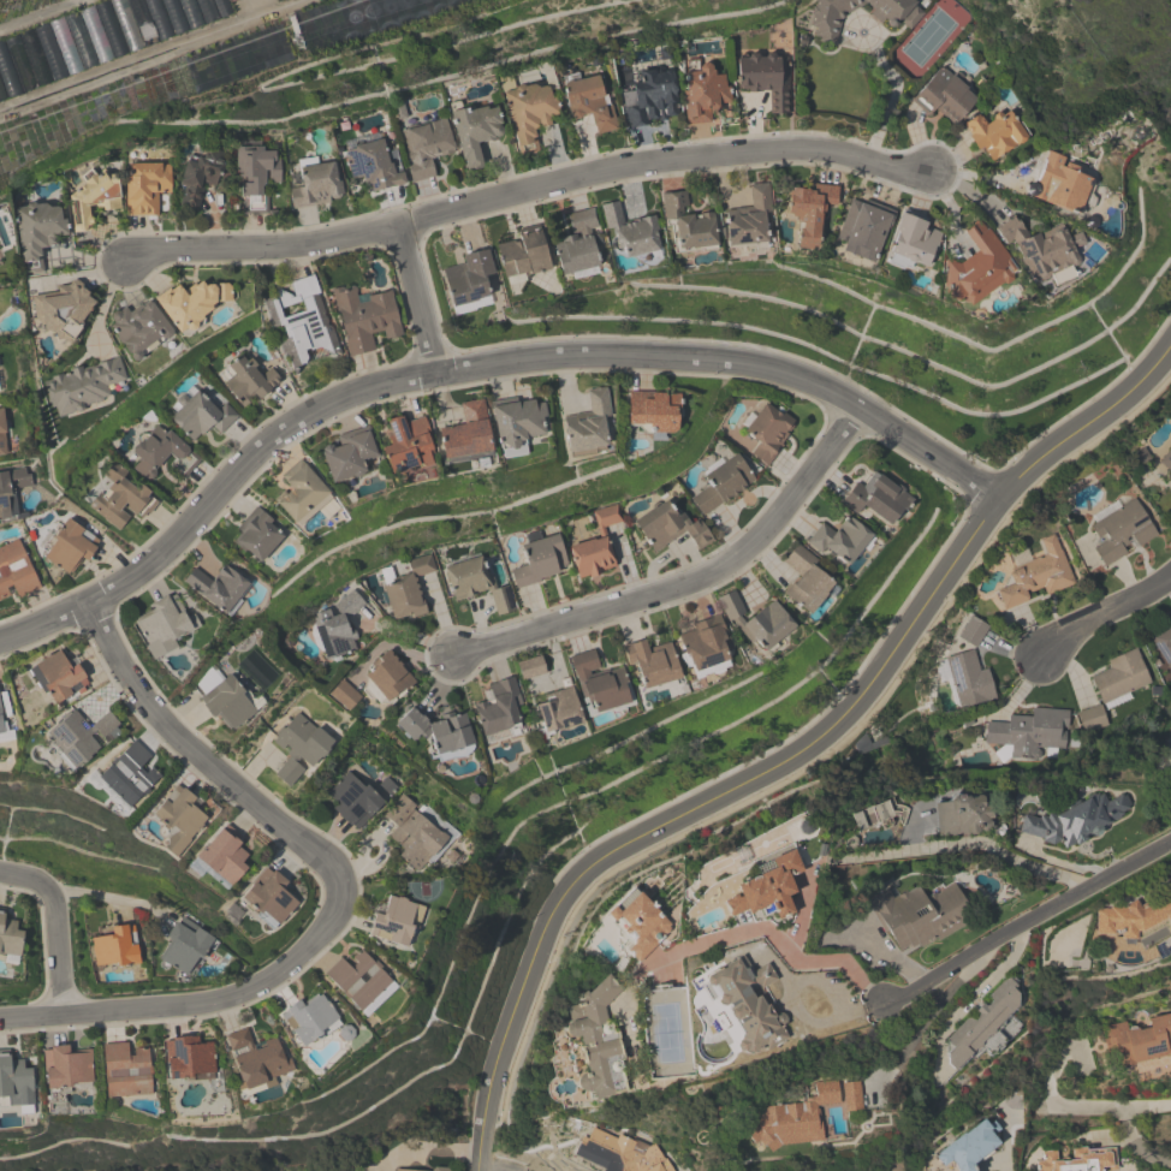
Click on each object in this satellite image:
building: (827, 20)
crop: (151, 54)
building: (767, 78)
building: (705, 95)
building: (944, 96)
building: (653, 97)
road: (891, 97)
building: (592, 102)
building: (531, 111)
building: (475, 132)
building: (995, 133)
building: (427, 147)
road: (588, 147)
building: (374, 166)
building: (257, 174)
building: (200, 178)
building: (1059, 183)
building: (317, 185)
building: (147, 186)
road: (528, 188)
building: (94, 198)
building: (810, 210)
building: (750, 218)
road: (214, 221)
building: (688, 222)
building: (40, 228)
building: (864, 228)
building: (631, 230)
building: (914, 239)
building: (578, 243)
building: (1040, 246)
building: (524, 255)
building: (0, 261)
building: (977, 267)
road: (82, 274)
building: (469, 278)
road: (106, 298)
road: (416, 298)
building: (194, 302)
building: (64, 309)
building: (365, 317)
building: (302, 322)
building: (138, 328)
road: (474, 367)
building: (249, 380)
building: (84, 385)
building: (654, 410)
building: (203, 416)
building: (519, 420)
building: (588, 422)
building: (4, 432)
building: (769, 432)
building: (466, 433)
building: (406, 445)
building: (164, 452)
building: (349, 454)
building: (1166, 462)
building: (1170, 482)
building: (723, 483)
building: (11, 489)
building: (301, 492)
building: (878, 498)
building: (120, 501)
building: (670, 527)
building: (1122, 530)
building: (257, 535)
building: (839, 539)
building: (598, 543)
building: (71, 546)
building: (540, 559)
building: (16, 570)
building: (1038, 576)
building: (806, 579)
road: (688, 581)
building: (477, 583)
building: (218, 587)
building: (410, 588)
road: (1106, 613)
building: (757, 619)
building: (339, 624)
building: (164, 625)
building: (974, 629)
building: (707, 643)
building: (1163, 646)
building: (655, 662)
building: (531, 667)
building: (58, 676)
building: (391, 676)
building: (1121, 679)
building: (601, 682)
building: (968, 682)
building: (345, 695)
building: (230, 701)
building: (500, 706)
building: (559, 709)
building: (1, 724)
building: (438, 731)
building: (1029, 735)
building: (82, 736)
building: (299, 748)
road: (793, 756)
road: (202, 760)
building: (130, 773)
building: (355, 800)
building: (876, 815)
building: (961, 815)
building: (179, 819)
building: (1074, 820)
building: (415, 832)
road: (908, 851)
building: (225, 855)
building: (766, 887)
building: (271, 896)
road: (112, 898)
building: (919, 914)
building: (1135, 915)
building: (398, 921)
road: (1026, 921)
building: (640, 923)
road: (57, 925)
building: (10, 935)
road: (775, 937)
building: (117, 946)
building: (186, 947)
building: (358, 979)
road: (194, 1003)
building: (748, 1003)
building: (309, 1018)
building: (983, 1026)
building: (596, 1040)
building: (1139, 1040)
building: (190, 1057)
building: (257, 1058)
building: (69, 1065)
building: (126, 1071)
building: (16, 1080)
road: (1142, 1106)
building: (801, 1114)
road: (1108, 1135)
building: (969, 1146)
road: (421, 1149)
road: (1141, 1149)
building: (618, 1153)
building: (1078, 1160)
road: (1000, 1165)
building: (440, 1169)
road: (492, 1169)
building: (408, 1170)

